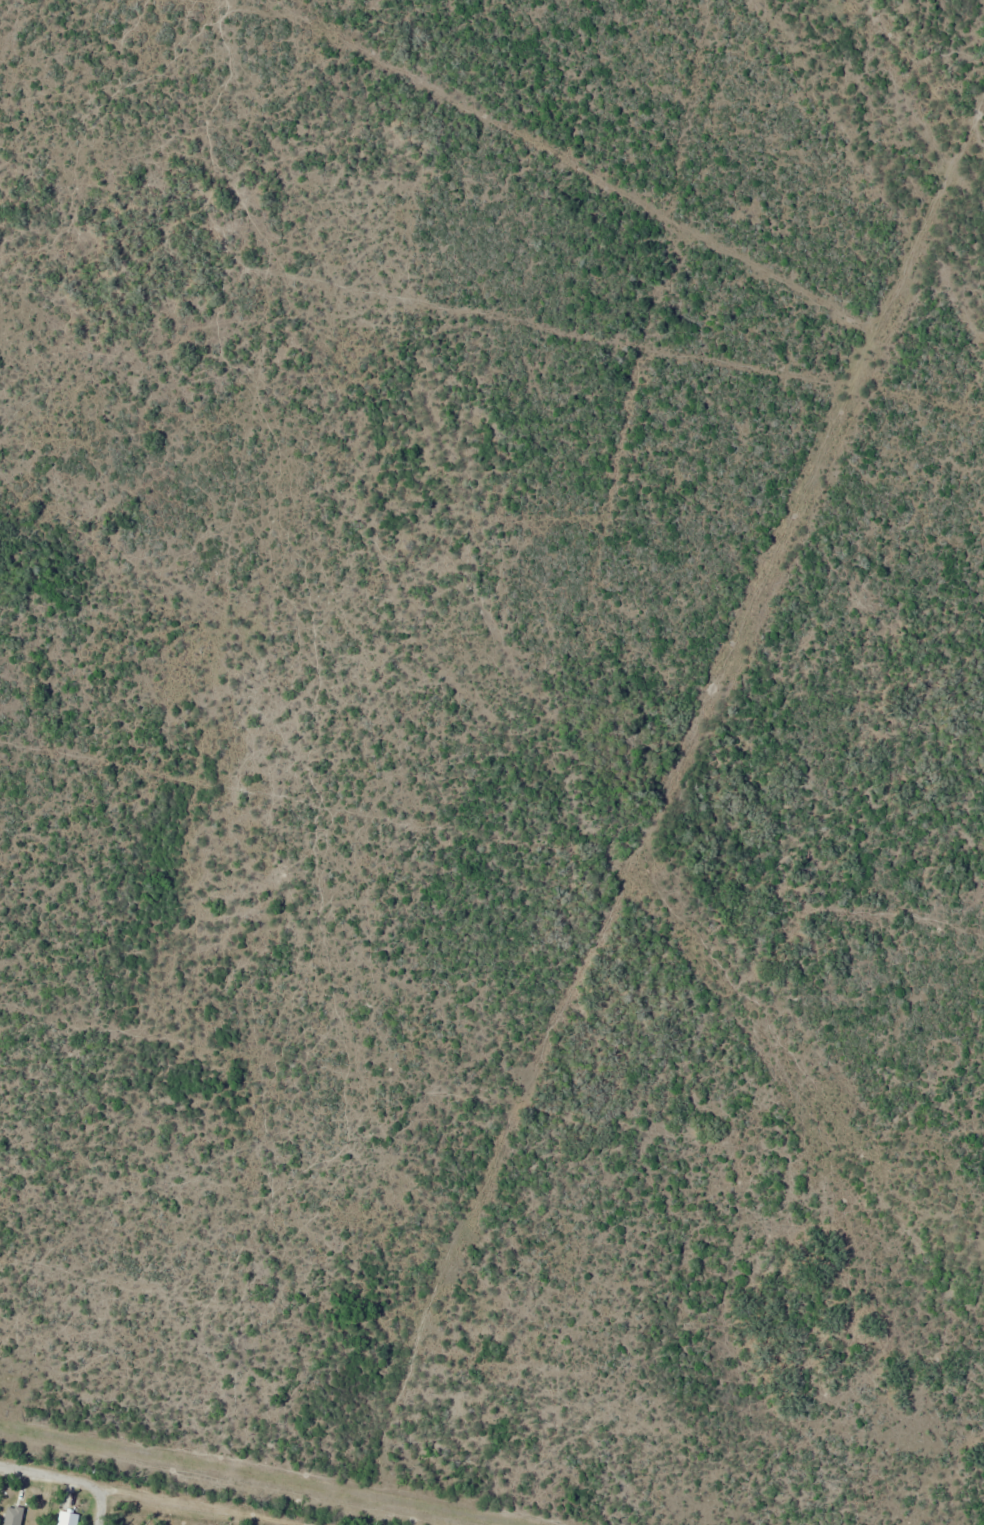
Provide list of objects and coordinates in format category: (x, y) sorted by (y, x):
road: (940, 257)
road: (676, 853)
road: (159, 1494)
road: (98, 1504)
building: (15, 1511)
building: (70, 1518)

